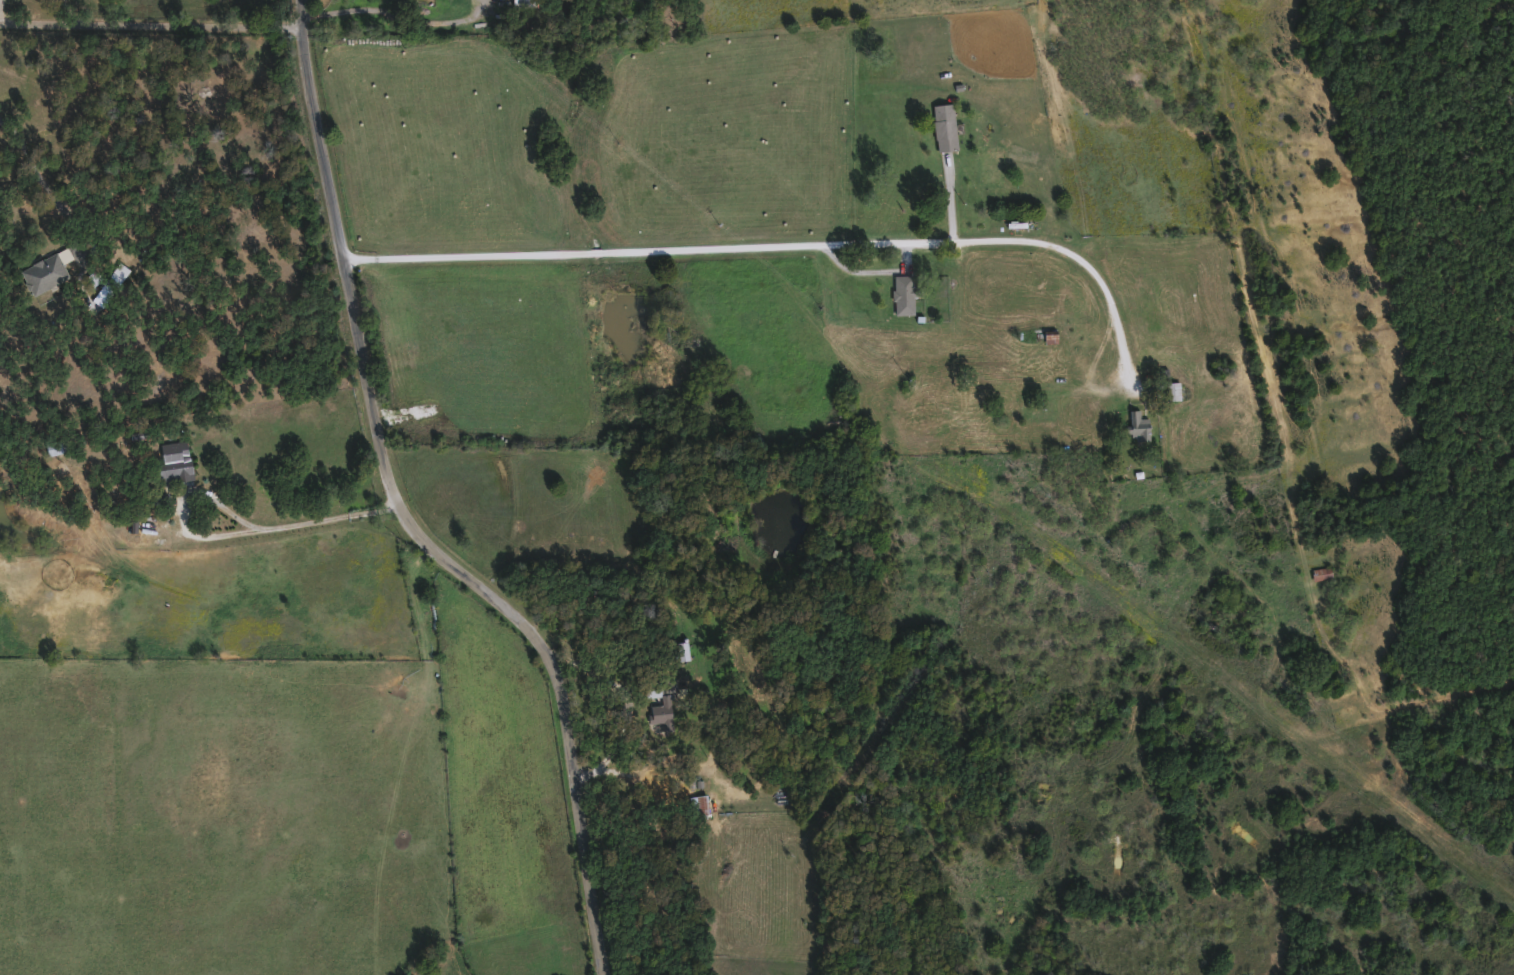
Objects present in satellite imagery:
building: (527, 2)
road: (0, 12)
road: (396, 12)
road: (76, 13)
road: (153, 26)
building: (947, 127)
road: (42, 177)
road: (788, 242)
building: (46, 273)
building: (906, 294)
building: (1174, 391)
building: (1142, 426)
building: (57, 446)
building: (176, 458)
road: (410, 514)
road: (308, 521)
building: (1323, 572)
building: (666, 701)
building: (702, 804)

